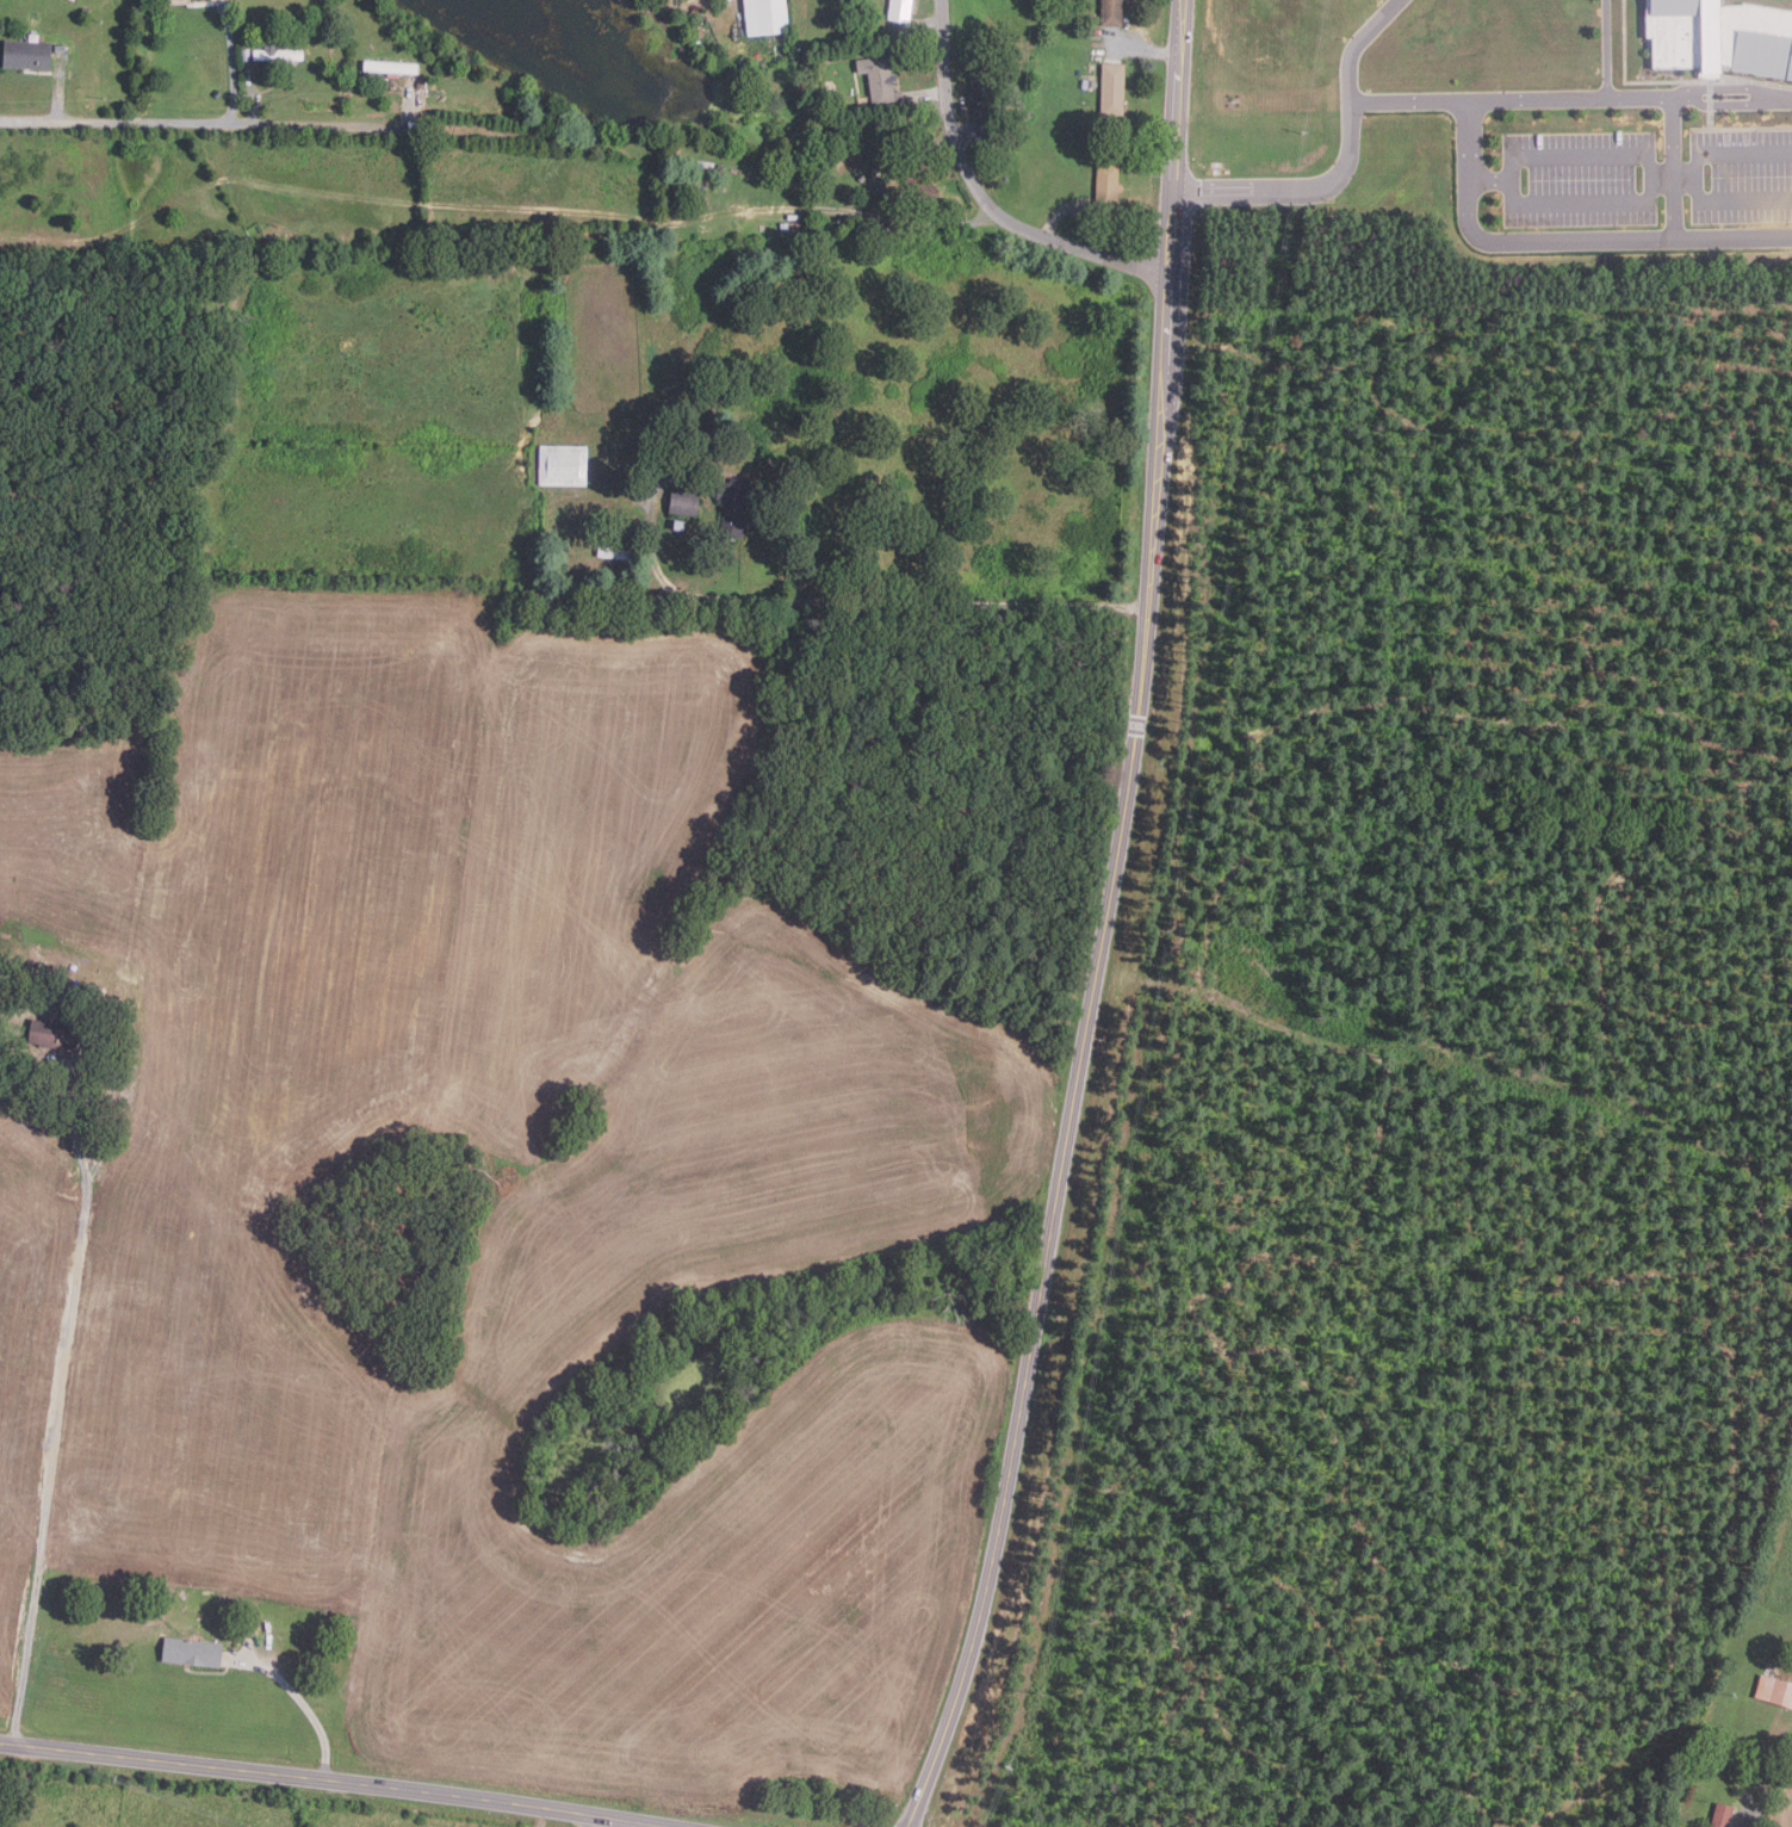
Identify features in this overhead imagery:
building: (901, 10)
building: (1112, 13)
building: (767, 17)
building: (1720, 37)
building: (277, 52)
building: (27, 55)
building: (246, 55)
building: (58, 60)
road: (232, 62)
building: (391, 67)
building: (880, 80)
building: (1114, 89)
building: (984, 94)
road: (1650, 95)
road: (60, 97)
road: (1534, 99)
road: (201, 125)
road: (1732, 153)
road: (1650, 157)
road: (1345, 163)
road: (1675, 165)
parking lot: (1742, 176)
road: (1674, 178)
parking lot: (1580, 180)
building: (918, 181)
building: (1108, 187)
road: (985, 198)
road: (1732, 200)
building: (790, 227)
road: (1507, 239)
building: (563, 464)
building: (684, 502)
building: (736, 506)
building: (680, 522)
building: (615, 552)
road: (847, 601)
road: (1106, 923)
building: (93, 996)
building: (52, 1035)
road: (61, 1392)
building: (250, 1628)
building: (193, 1652)
building: (1775, 1691)
road: (302, 1702)
road: (339, 1780)
building: (1722, 1815)
road: (1741, 1821)
road: (620, 1822)

